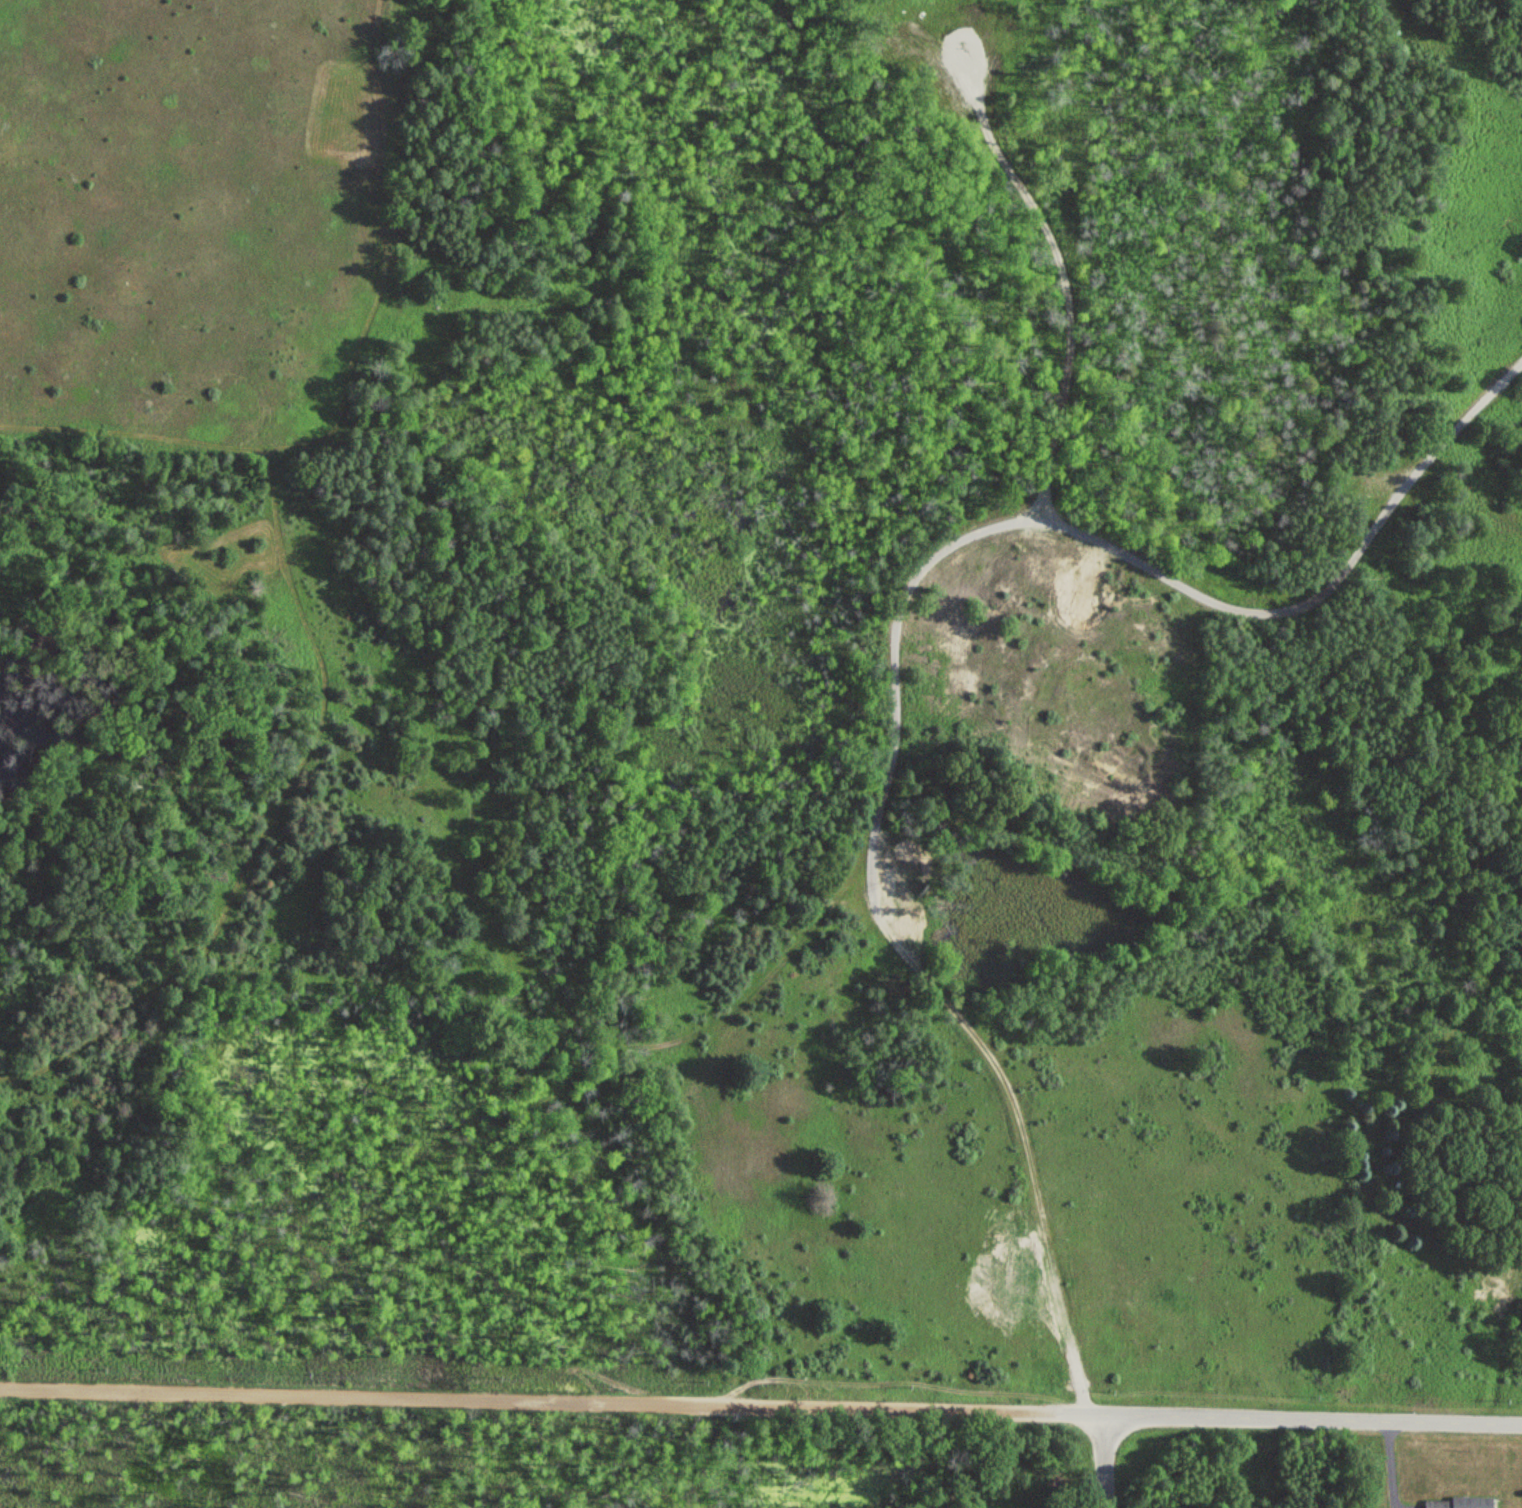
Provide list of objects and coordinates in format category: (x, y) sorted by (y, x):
road: (1035, 307)
road: (1445, 550)
road: (872, 628)
road: (761, 1402)
road: (1106, 1460)
building: (1452, 1503)

